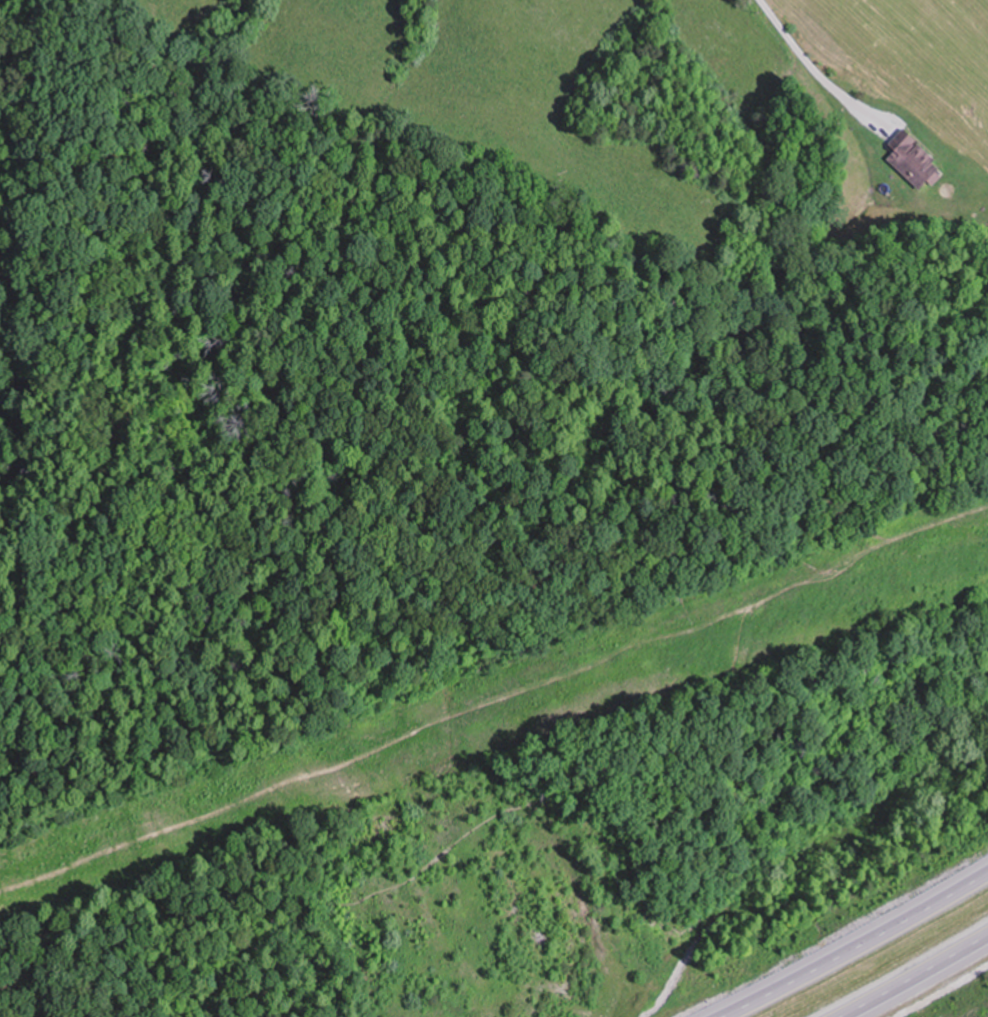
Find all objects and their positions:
building: (916, 159)
road: (853, 945)
road: (919, 979)

